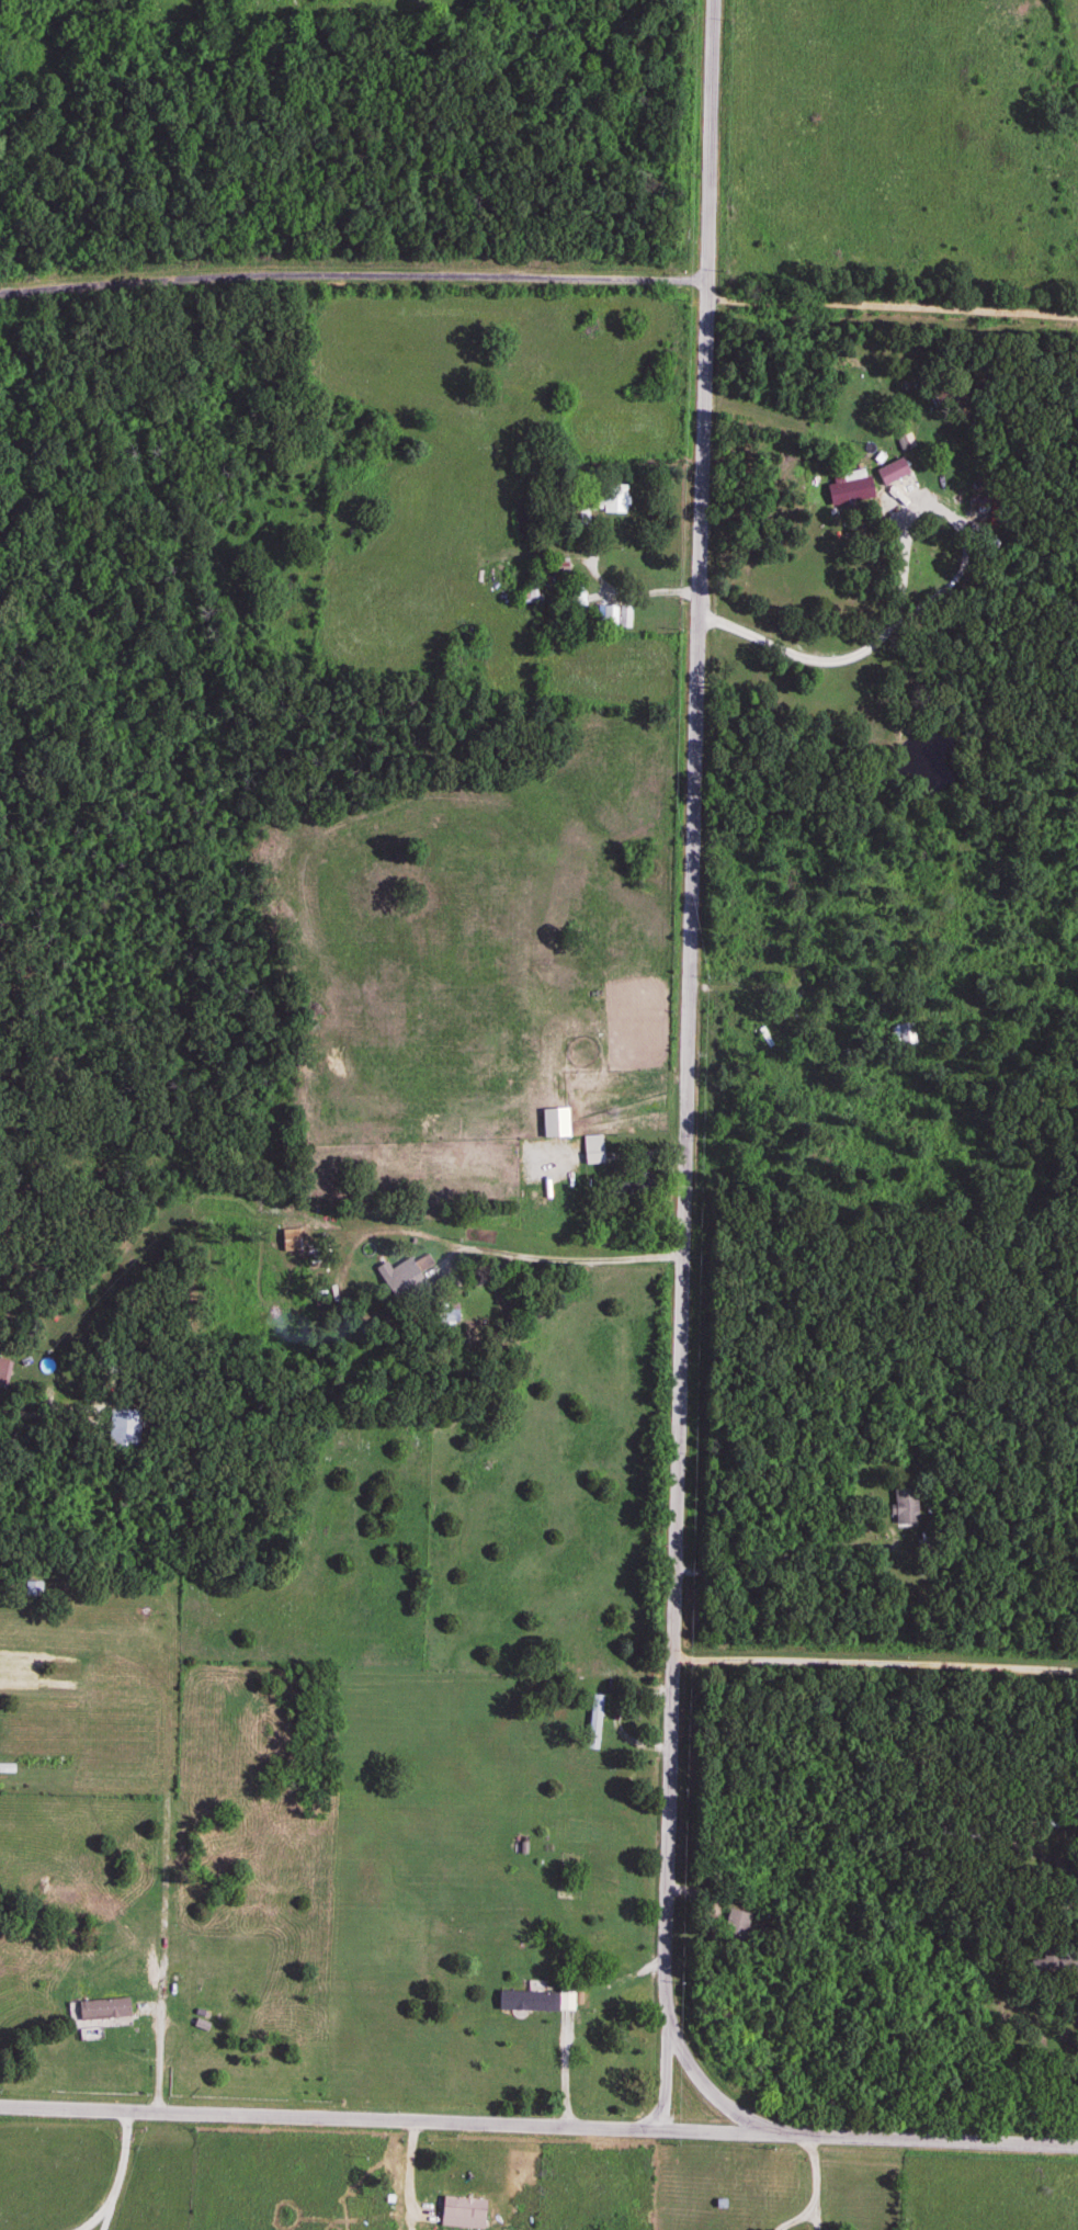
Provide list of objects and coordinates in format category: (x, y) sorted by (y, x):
road: (354, 274)
road: (893, 304)
building: (888, 466)
building: (846, 489)
building: (974, 495)
building: (611, 499)
road: (931, 500)
building: (558, 566)
building: (606, 616)
building: (624, 618)
road: (809, 657)
building: (797, 998)
building: (904, 1035)
road: (688, 1063)
building: (591, 1147)
building: (633, 1182)
road: (564, 1258)
building: (405, 1276)
building: (442, 1314)
building: (904, 1507)
road: (773, 1555)
building: (32, 1588)
road: (877, 1653)
building: (597, 1717)
building: (740, 1928)
building: (1056, 1961)
building: (524, 2002)
building: (564, 2002)
road: (710, 2086)
road: (331, 2116)
road: (711, 2127)
road: (917, 2132)
road: (411, 2174)
road: (118, 2175)
road: (817, 2188)
building: (321, 2208)
building: (462, 2214)

